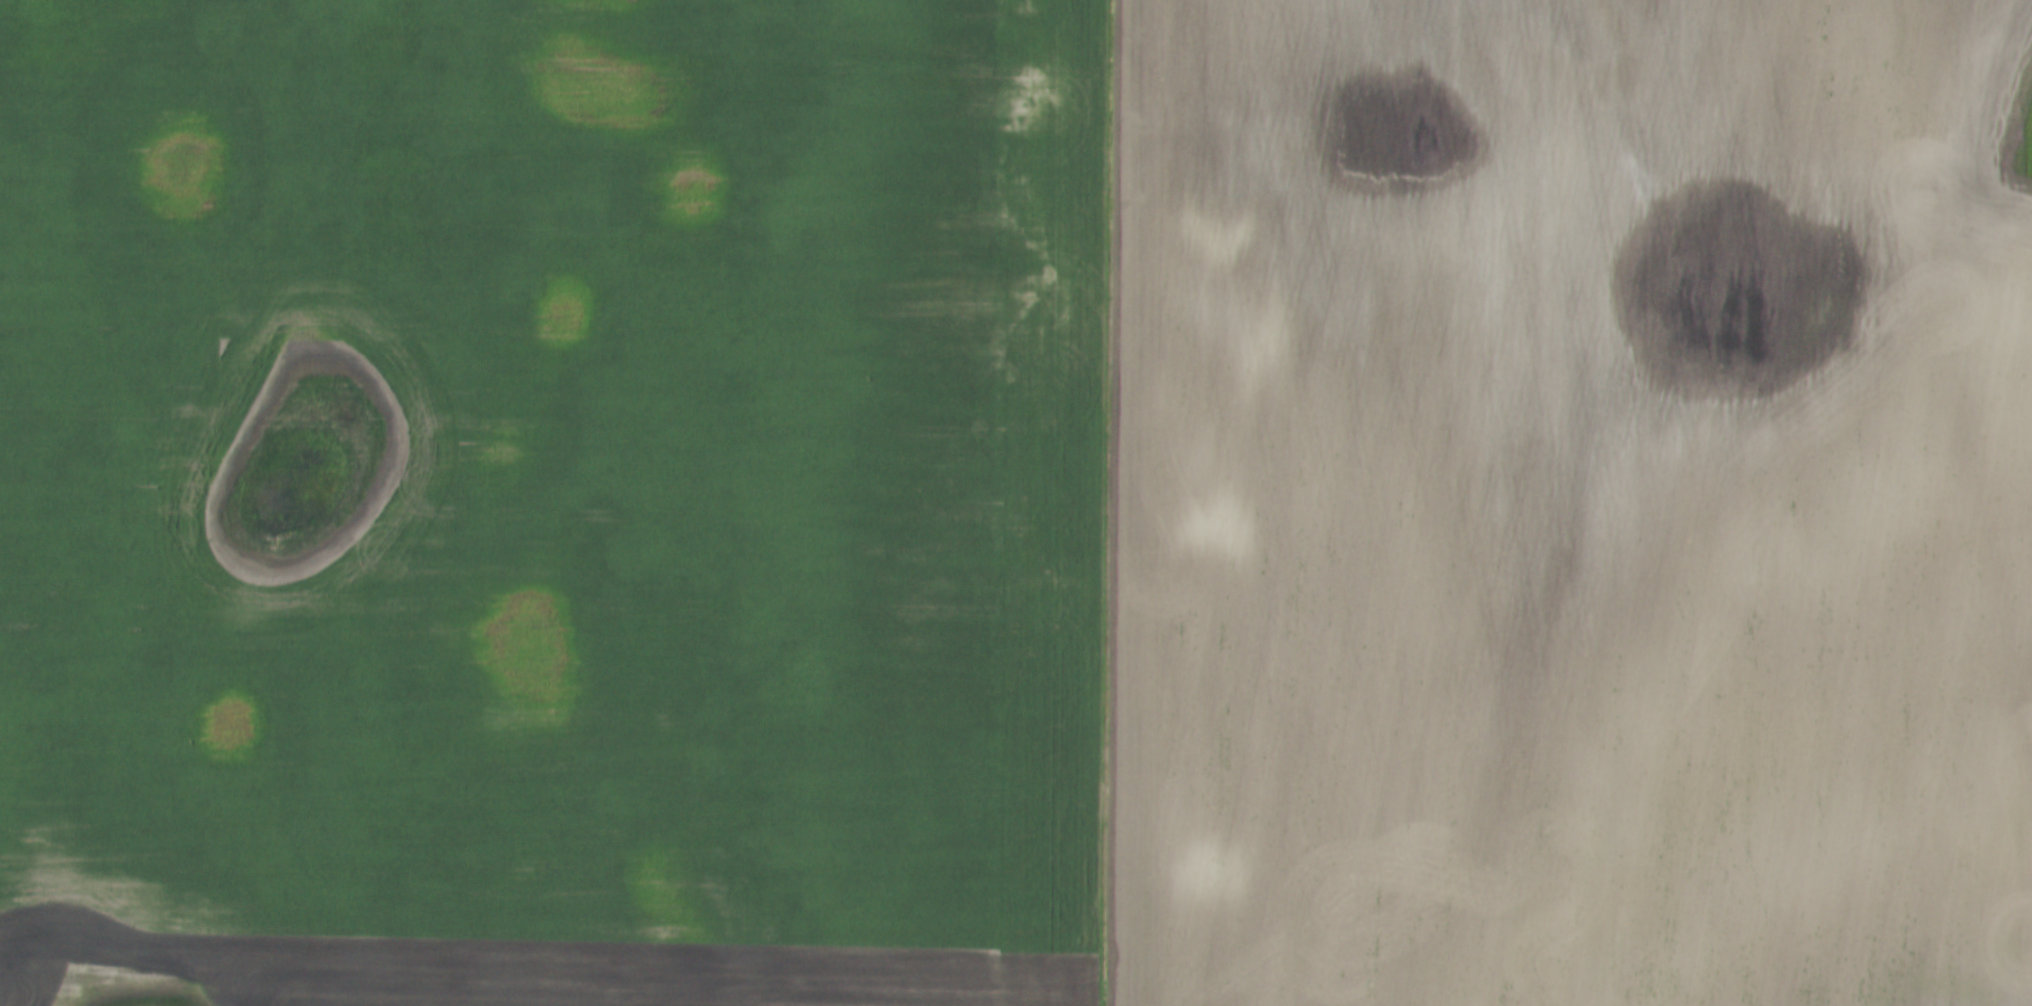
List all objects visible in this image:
road: (1110, 503)

